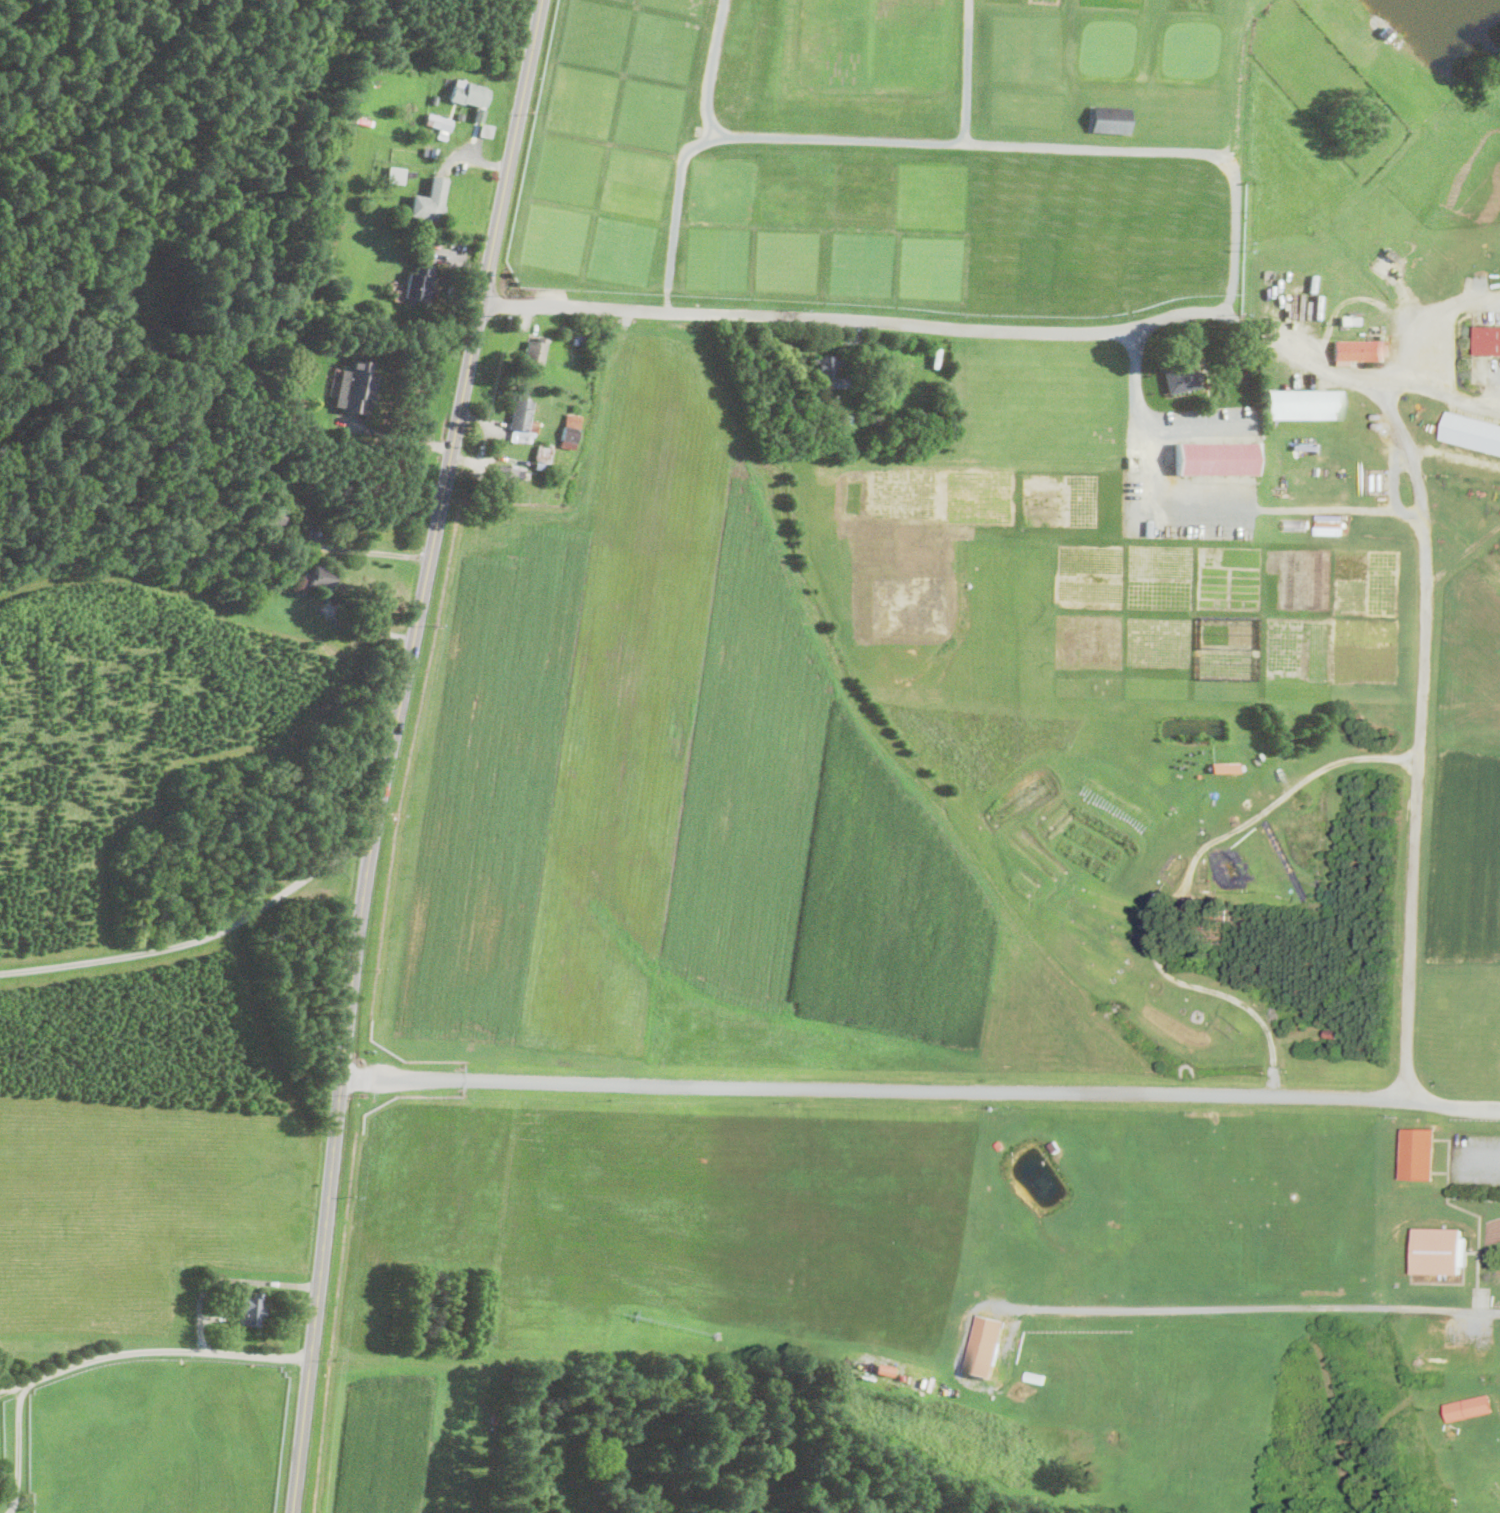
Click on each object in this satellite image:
building: (1384, 31)
building: (448, 66)
road: (711, 69)
road: (965, 71)
building: (469, 96)
building: (435, 100)
building: (460, 116)
building: (1110, 117)
building: (438, 121)
building: (485, 130)
building: (428, 131)
road: (975, 143)
building: (430, 152)
road: (484, 160)
building: (396, 175)
road: (1235, 182)
building: (429, 201)
building: (391, 214)
road: (676, 214)
building: (1390, 254)
building: (419, 284)
building: (333, 291)
road: (1353, 297)
building: (421, 318)
road: (860, 319)
building: (1344, 320)
building: (1354, 320)
road: (1431, 321)
building: (577, 337)
building: (1488, 340)
building: (535, 350)
building: (1357, 351)
building: (828, 370)
building: (1181, 375)
road: (1362, 377)
building: (355, 385)
building: (1304, 404)
building: (873, 412)
building: (522, 416)
building: (846, 419)
road: (1199, 424)
building: (569, 431)
building: (1472, 432)
road: (401, 435)
building: (542, 457)
building: (1214, 458)
building: (506, 479)
road: (1208, 511)
building: (275, 516)
building: (1294, 523)
road: (364, 549)
building: (255, 564)
building: (322, 577)
road: (1420, 734)
road: (389, 752)
building: (1224, 767)
crop: (961, 799)
road: (1182, 884)
building: (1190, 910)
road: (198, 936)
building: (1332, 1032)
road: (921, 1088)
building: (1000, 1145)
building: (1056, 1146)
building: (1420, 1146)
building: (1440, 1249)
road: (228, 1277)
building: (1489, 1277)
road: (1260, 1307)
building: (250, 1309)
building: (986, 1347)
road: (166, 1348)
building: (884, 1368)
building: (1036, 1376)
road: (14, 1385)
building: (1468, 1408)
building: (494, 1417)
road: (17, 1446)

